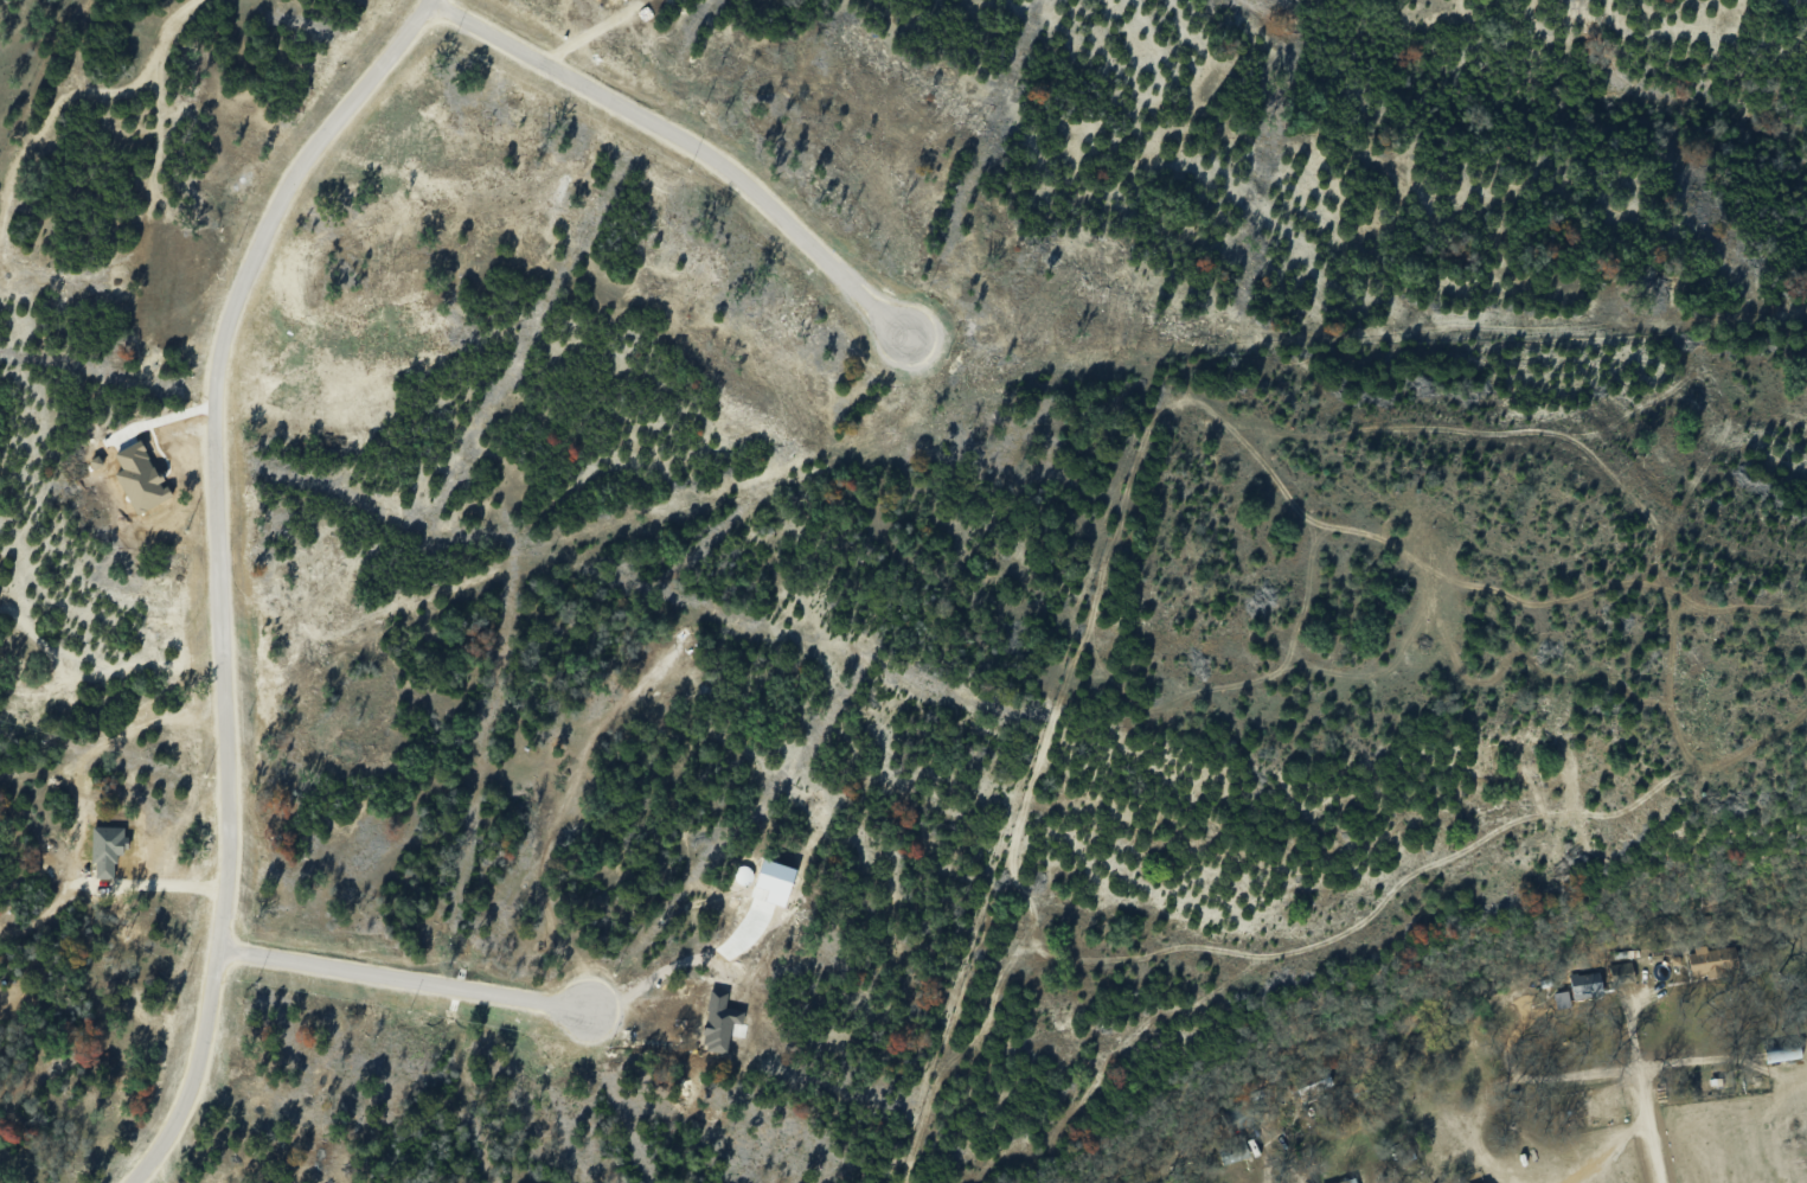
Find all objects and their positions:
road: (685, 143)
road: (218, 569)
building: (1715, 960)
building: (1623, 970)
road: (406, 979)
building: (1588, 983)
road: (1642, 1094)
building: (1351, 1181)

